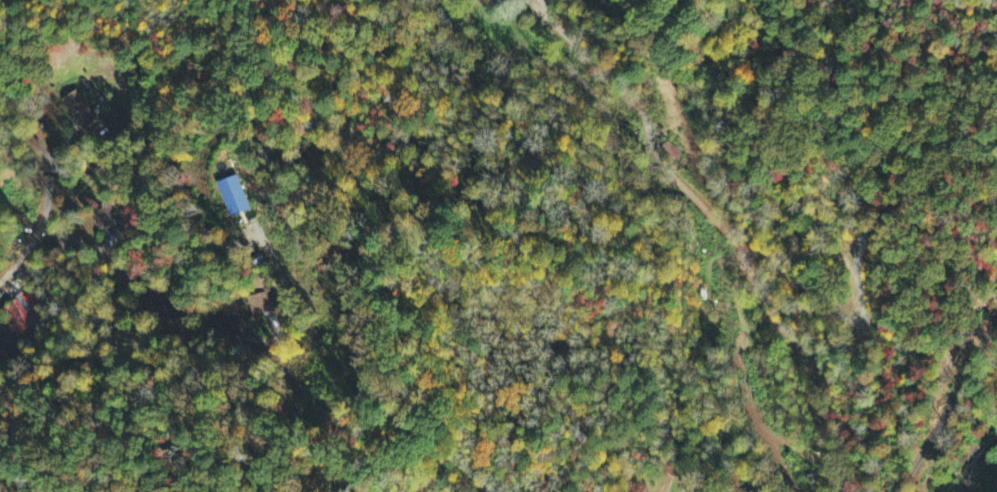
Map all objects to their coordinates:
building: (78, 112)
building: (233, 198)
building: (104, 219)
road: (720, 227)
road: (26, 252)
building: (258, 306)
building: (228, 309)
building: (22, 315)
road: (152, 334)

